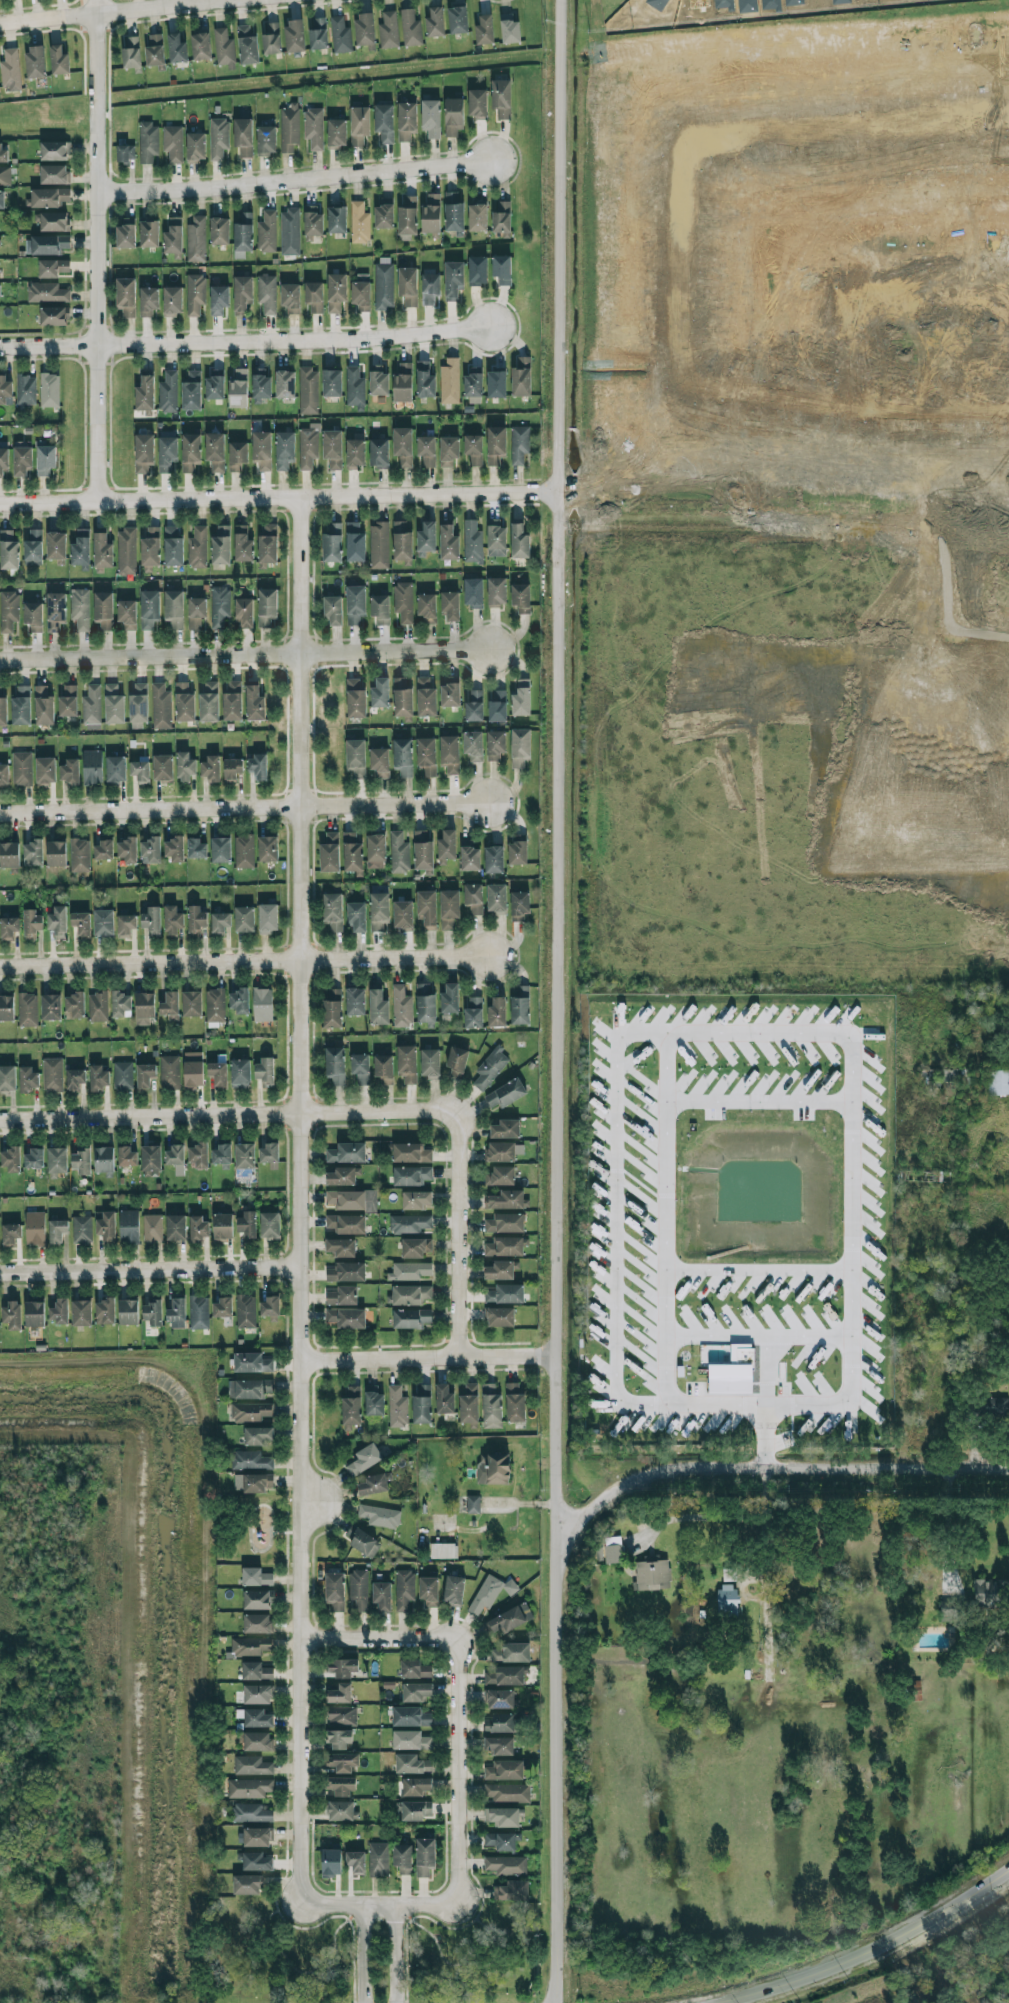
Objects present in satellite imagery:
road: (120, 11)
building: (457, 19)
building: (434, 22)
building: (409, 28)
building: (508, 28)
building: (483, 29)
building: (364, 30)
building: (387, 30)
building: (317, 33)
building: (293, 35)
building: (340, 35)
building: (270, 38)
building: (246, 45)
building: (199, 46)
building: (176, 48)
building: (223, 48)
building: (154, 50)
building: (130, 53)
building: (58, 60)
building: (34, 62)
building: (9, 70)
building: (500, 98)
building: (476, 103)
building: (452, 117)
building: (430, 118)
building: (405, 120)
building: (383, 122)
building: (358, 125)
building: (288, 127)
building: (313, 128)
building: (335, 132)
building: (242, 136)
building: (217, 137)
building: (265, 140)
building: (147, 142)
building: (172, 143)
building: (195, 147)
building: (54, 150)
building: (3, 154)
building: (124, 154)
building: (53, 174)
building: (4, 175)
road: (295, 179)
building: (48, 196)
building: (1, 199)
building: (453, 210)
building: (431, 214)
building: (407, 215)
building: (383, 216)
building: (476, 217)
building: (501, 217)
building: (336, 218)
building: (52, 221)
building: (359, 223)
building: (312, 224)
building: (218, 231)
building: (242, 231)
building: (266, 231)
building: (289, 231)
building: (125, 233)
building: (148, 233)
building: (173, 236)
building: (195, 239)
building: (46, 244)
road: (560, 245)
road: (97, 250)
road: (684, 261)
building: (52, 267)
building: (501, 269)
building: (476, 270)
building: (452, 279)
building: (383, 282)
building: (407, 286)
building: (429, 288)
building: (335, 291)
building: (46, 292)
building: (360, 292)
road: (875, 292)
building: (194, 293)
building: (241, 293)
building: (266, 293)
building: (125, 296)
building: (313, 296)
building: (289, 298)
building: (218, 299)
building: (172, 300)
building: (148, 301)
building: (53, 316)
road: (245, 340)
building: (520, 377)
building: (377, 379)
building: (424, 381)
building: (449, 381)
building: (331, 382)
building: (402, 382)
building: (472, 382)
building: (284, 383)
building: (495, 384)
building: (214, 385)
building: (260, 386)
building: (354, 387)
building: (25, 389)
building: (48, 389)
building: (190, 389)
building: (238, 389)
building: (5, 390)
building: (307, 390)
building: (167, 392)
building: (144, 393)
building: (495, 444)
building: (519, 444)
building: (307, 445)
building: (402, 445)
building: (331, 448)
building: (472, 448)
building: (261, 450)
building: (284, 450)
building: (426, 450)
building: (190, 451)
building: (214, 451)
building: (447, 451)
building: (143, 452)
building: (354, 453)
building: (378, 453)
building: (166, 454)
building: (236, 455)
building: (3, 459)
building: (21, 459)
building: (45, 459)
road: (279, 496)
road: (783, 504)
building: (426, 537)
building: (495, 538)
building: (402, 540)
building: (471, 541)
building: (518, 541)
building: (331, 542)
building: (354, 542)
building: (448, 542)
building: (267, 543)
building: (242, 544)
building: (55, 545)
building: (172, 545)
building: (220, 545)
building: (378, 545)
building: (32, 546)
building: (150, 547)
building: (196, 547)
building: (80, 549)
building: (8, 550)
building: (101, 551)
building: (126, 551)
building: (472, 592)
building: (496, 592)
building: (520, 597)
building: (402, 602)
building: (354, 604)
building: (449, 605)
building: (219, 606)
building: (426, 607)
building: (79, 608)
building: (173, 608)
building: (266, 608)
building: (379, 608)
building: (148, 609)
building: (8, 610)
building: (102, 610)
building: (332, 610)
building: (54, 611)
building: (195, 611)
building: (243, 612)
building: (126, 614)
building: (32, 615)
road: (246, 654)
building: (379, 693)
building: (449, 694)
building: (402, 696)
building: (355, 697)
building: (425, 697)
building: (521, 698)
building: (231, 700)
building: (67, 701)
building: (183, 702)
building: (208, 702)
building: (254, 703)
building: (113, 704)
building: (2, 705)
building: (91, 705)
building: (137, 705)
building: (497, 705)
building: (20, 706)
building: (43, 706)
building: (160, 706)
building: (474, 706)
building: (495, 744)
building: (472, 745)
building: (519, 747)
building: (448, 754)
building: (426, 755)
building: (402, 756)
building: (355, 757)
building: (379, 762)
building: (257, 766)
building: (92, 767)
building: (162, 767)
building: (184, 767)
building: (210, 768)
building: (231, 768)
building: (21, 769)
building: (115, 769)
building: (140, 770)
building: (44, 771)
building: (69, 771)
building: (3, 776)
road: (245, 807)
building: (446, 845)
building: (195, 848)
building: (267, 848)
building: (173, 849)
building: (220, 849)
building: (102, 850)
building: (126, 850)
building: (149, 850)
building: (422, 850)
building: (243, 851)
building: (375, 851)
building: (351, 852)
building: (398, 852)
building: (516, 852)
building: (33, 853)
building: (329, 853)
building: (55, 855)
building: (79, 855)
building: (9, 857)
building: (493, 859)
building: (472, 898)
building: (496, 898)
building: (518, 905)
building: (448, 908)
building: (426, 909)
building: (332, 911)
building: (378, 912)
building: (402, 914)
building: (356, 917)
building: (195, 918)
building: (267, 918)
building: (243, 919)
building: (151, 920)
building: (172, 920)
building: (57, 921)
building: (219, 921)
building: (103, 922)
building: (80, 923)
building: (30, 924)
building: (125, 925)
building: (8, 928)
road: (244, 960)
building: (238, 999)
building: (449, 999)
building: (354, 1001)
building: (191, 1003)
building: (424, 1003)
building: (120, 1004)
building: (214, 1004)
building: (261, 1004)
building: (73, 1005)
building: (169, 1005)
building: (519, 1005)
building: (97, 1006)
building: (50, 1007)
building: (143, 1007)
building: (377, 1007)
building: (6, 1008)
building: (26, 1009)
building: (331, 1009)
building: (472, 1012)
building: (496, 1012)
road: (704, 1029)
building: (456, 1062)
building: (406, 1063)
building: (429, 1063)
building: (334, 1065)
building: (359, 1068)
building: (383, 1068)
building: (490, 1068)
building: (264, 1071)
building: (168, 1072)
building: (192, 1073)
building: (217, 1073)
building: (239, 1073)
building: (51, 1074)
building: (122, 1075)
building: (144, 1075)
building: (98, 1077)
building: (7, 1078)
building: (27, 1078)
building: (74, 1079)
building: (997, 1082)
building: (506, 1095)
road: (757, 1100)
road: (228, 1115)
building: (505, 1131)
building: (503, 1151)
building: (408, 1152)
building: (346, 1153)
building: (174, 1154)
building: (198, 1155)
building: (221, 1155)
building: (244, 1155)
building: (268, 1155)
building: (126, 1156)
building: (33, 1157)
building: (9, 1159)
building: (56, 1159)
building: (103, 1159)
building: (149, 1159)
building: (80, 1160)
building: (411, 1175)
building: (342, 1176)
building: (499, 1176)
road: (299, 1199)
building: (416, 1199)
building: (351, 1200)
road: (663, 1215)
building: (345, 1223)
building: (409, 1223)
building: (504, 1223)
building: (246, 1224)
building: (269, 1224)
building: (105, 1225)
building: (128, 1226)
building: (222, 1226)
building: (175, 1227)
building: (34, 1228)
building: (151, 1228)
building: (81, 1229)
building: (198, 1229)
building: (56, 1230)
road: (459, 1233)
building: (9, 1234)
building: (503, 1246)
building: (340, 1247)
building: (414, 1247)
road: (553, 1247)
road: (756, 1267)
building: (408, 1270)
building: (500, 1270)
road: (149, 1271)
building: (345, 1272)
building: (410, 1294)
building: (504, 1294)
building: (341, 1295)
building: (222, 1307)
building: (269, 1308)
building: (58, 1311)
building: (104, 1311)
building: (245, 1311)
building: (80, 1312)
building: (127, 1312)
building: (151, 1312)
building: (198, 1312)
building: (175, 1313)
building: (33, 1314)
building: (11, 1315)
building: (349, 1317)
building: (499, 1317)
building: (410, 1318)
road: (756, 1333)
road: (426, 1356)
building: (251, 1363)
road: (766, 1369)
building: (732, 1371)
building: (248, 1389)
building: (443, 1399)
building: (373, 1401)
building: (514, 1402)
building: (421, 1404)
building: (468, 1404)
building: (350, 1405)
building: (490, 1406)
building: (992, 1406)
building: (396, 1407)
building: (250, 1412)
road: (762, 1435)
building: (257, 1436)
building: (363, 1459)
building: (250, 1460)
road: (770, 1467)
building: (492, 1468)
building: (257, 1483)
building: (372, 1485)
road: (310, 1498)
building: (472, 1504)
building: (379, 1516)
road: (764, 1533)
building: (361, 1540)
building: (612, 1549)
building: (442, 1550)
building: (651, 1575)
building: (727, 1576)
building: (255, 1577)
building: (334, 1588)
building: (403, 1589)
building: (453, 1589)
building: (358, 1590)
building: (428, 1591)
building: (987, 1591)
building: (485, 1594)
building: (381, 1595)
building: (727, 1599)
building: (255, 1600)
building: (509, 1619)
building: (256, 1623)
road: (379, 1640)
building: (249, 1646)
building: (510, 1652)
building: (341, 1667)
building: (414, 1669)
building: (255, 1671)
building: (504, 1676)
building: (415, 1692)
building: (339, 1693)
building: (257, 1694)
building: (500, 1699)
building: (341, 1715)
building: (254, 1717)
building: (410, 1717)
building: (499, 1723)
building: (338, 1738)
building: (410, 1740)
building: (256, 1741)
building: (497, 1745)
building: (342, 1762)
building: (411, 1764)
building: (251, 1765)
building: (503, 1770)
road: (456, 1773)
building: (340, 1786)
building: (416, 1786)
building: (248, 1788)
building: (507, 1792)
building: (340, 1810)
building: (415, 1810)
building: (252, 1812)
building: (501, 1816)
building: (255, 1837)
building: (501, 1841)
building: (424, 1856)
building: (402, 1858)
building: (377, 1859)
building: (254, 1861)
building: (330, 1862)
building: (355, 1862)
building: (504, 1865)
building: (246, 1884)
building: (510, 1890)
road: (378, 1905)
road: (878, 1949)
road: (364, 1954)
road: (395, 1954)

